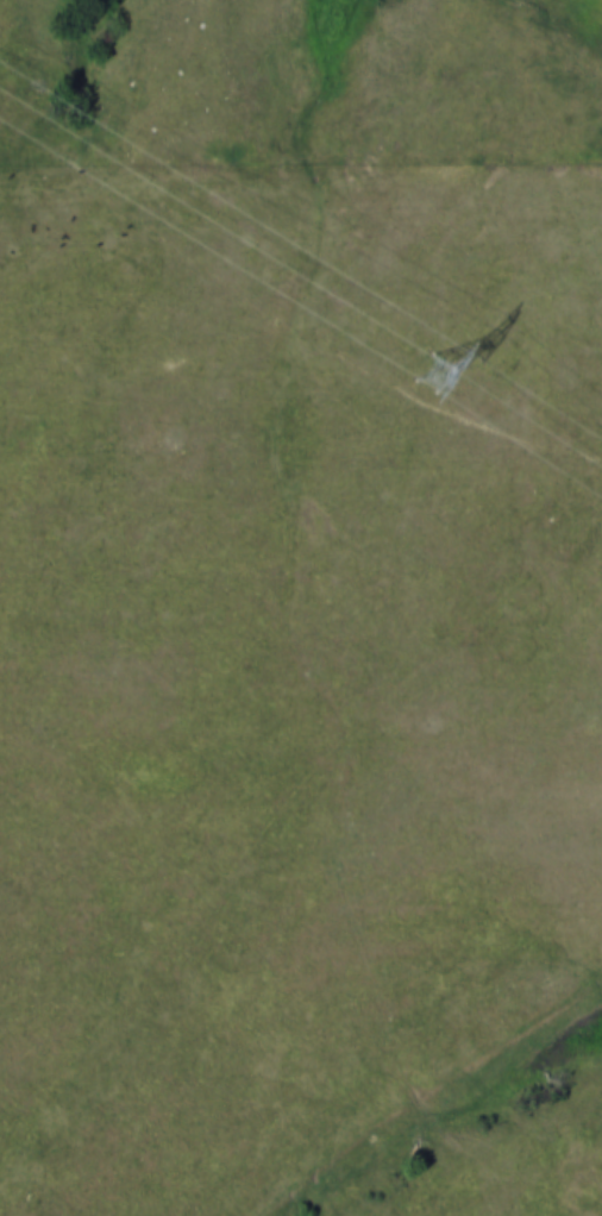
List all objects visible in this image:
power tower: (438, 374)
road: (432, 1121)

